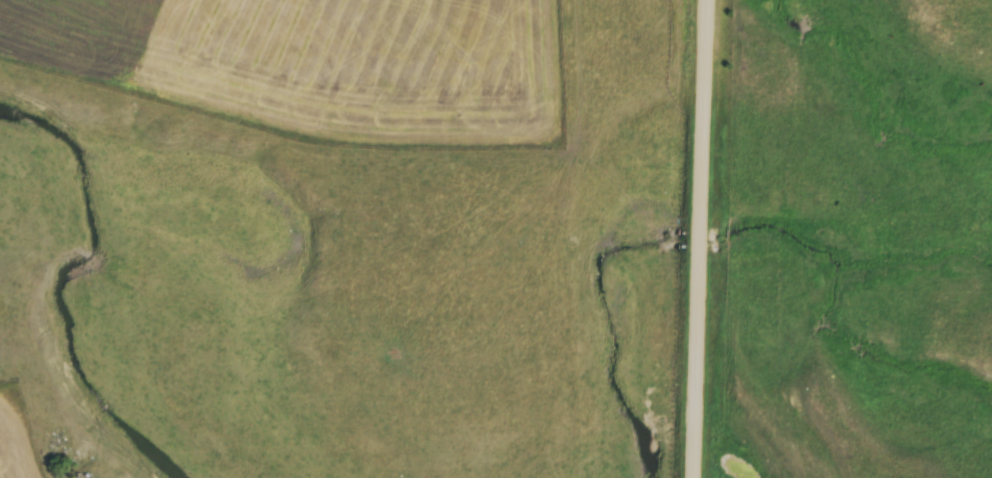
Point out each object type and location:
road: (700, 238)

